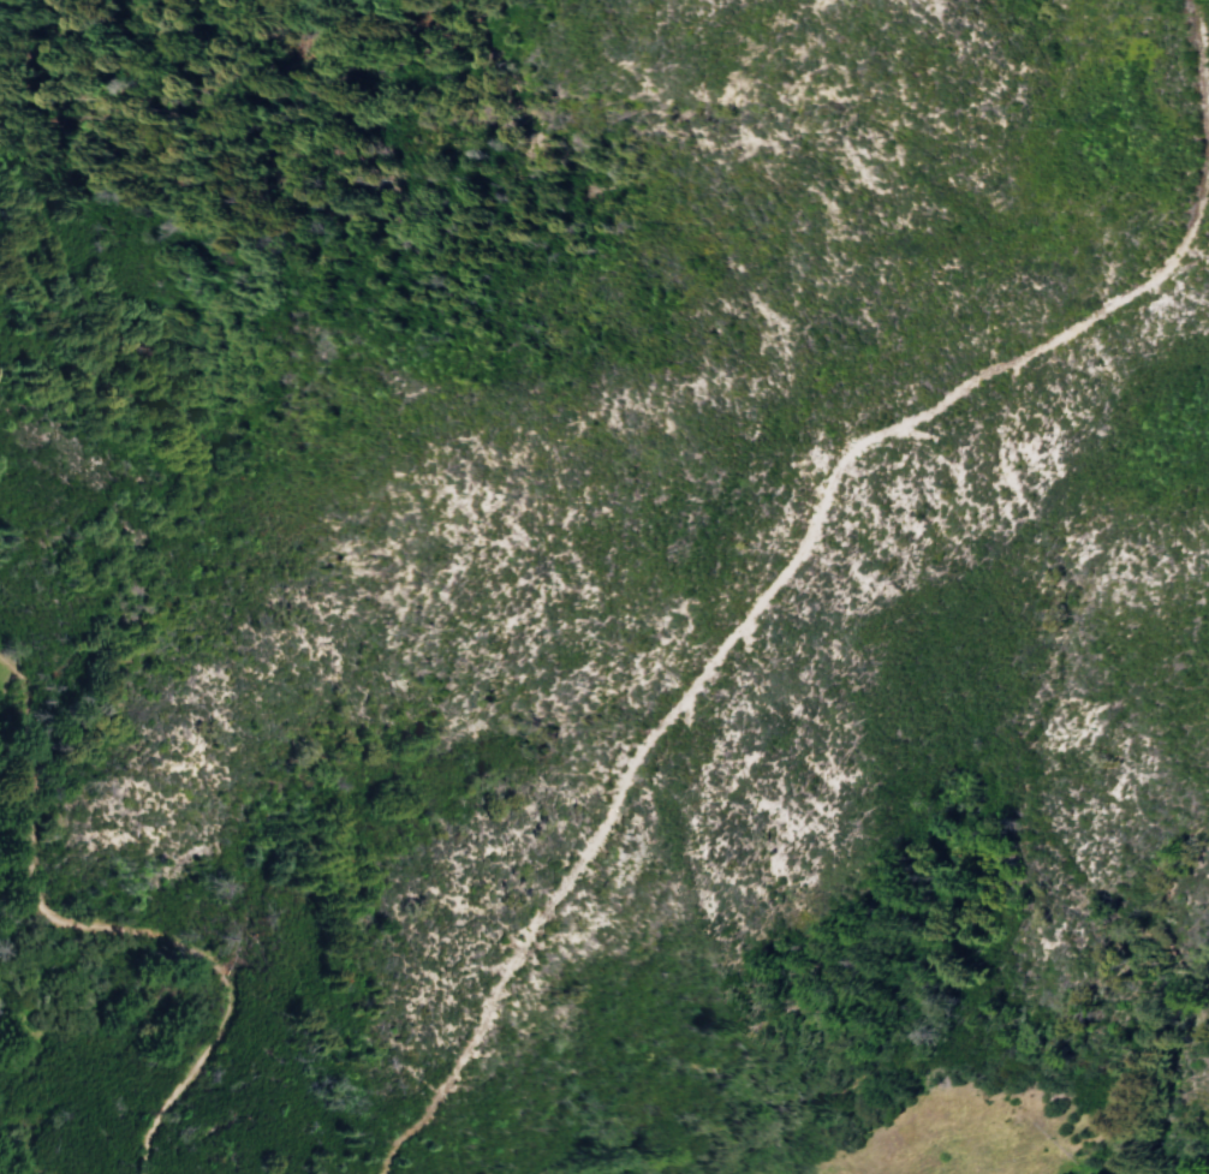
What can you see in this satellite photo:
road: (1208, 151)
road: (725, 642)
road: (111, 928)

